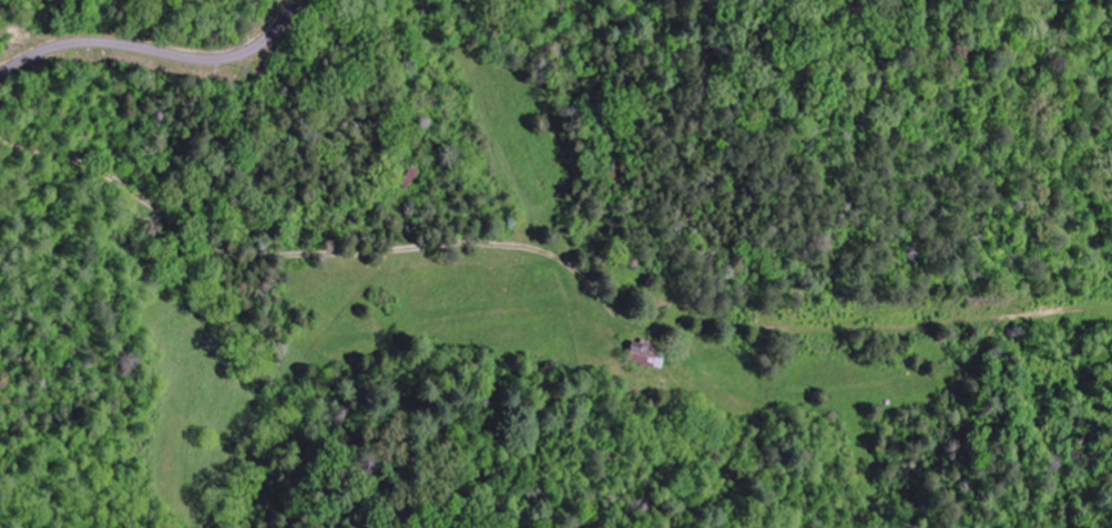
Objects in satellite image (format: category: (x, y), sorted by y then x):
road: (160, 53)

